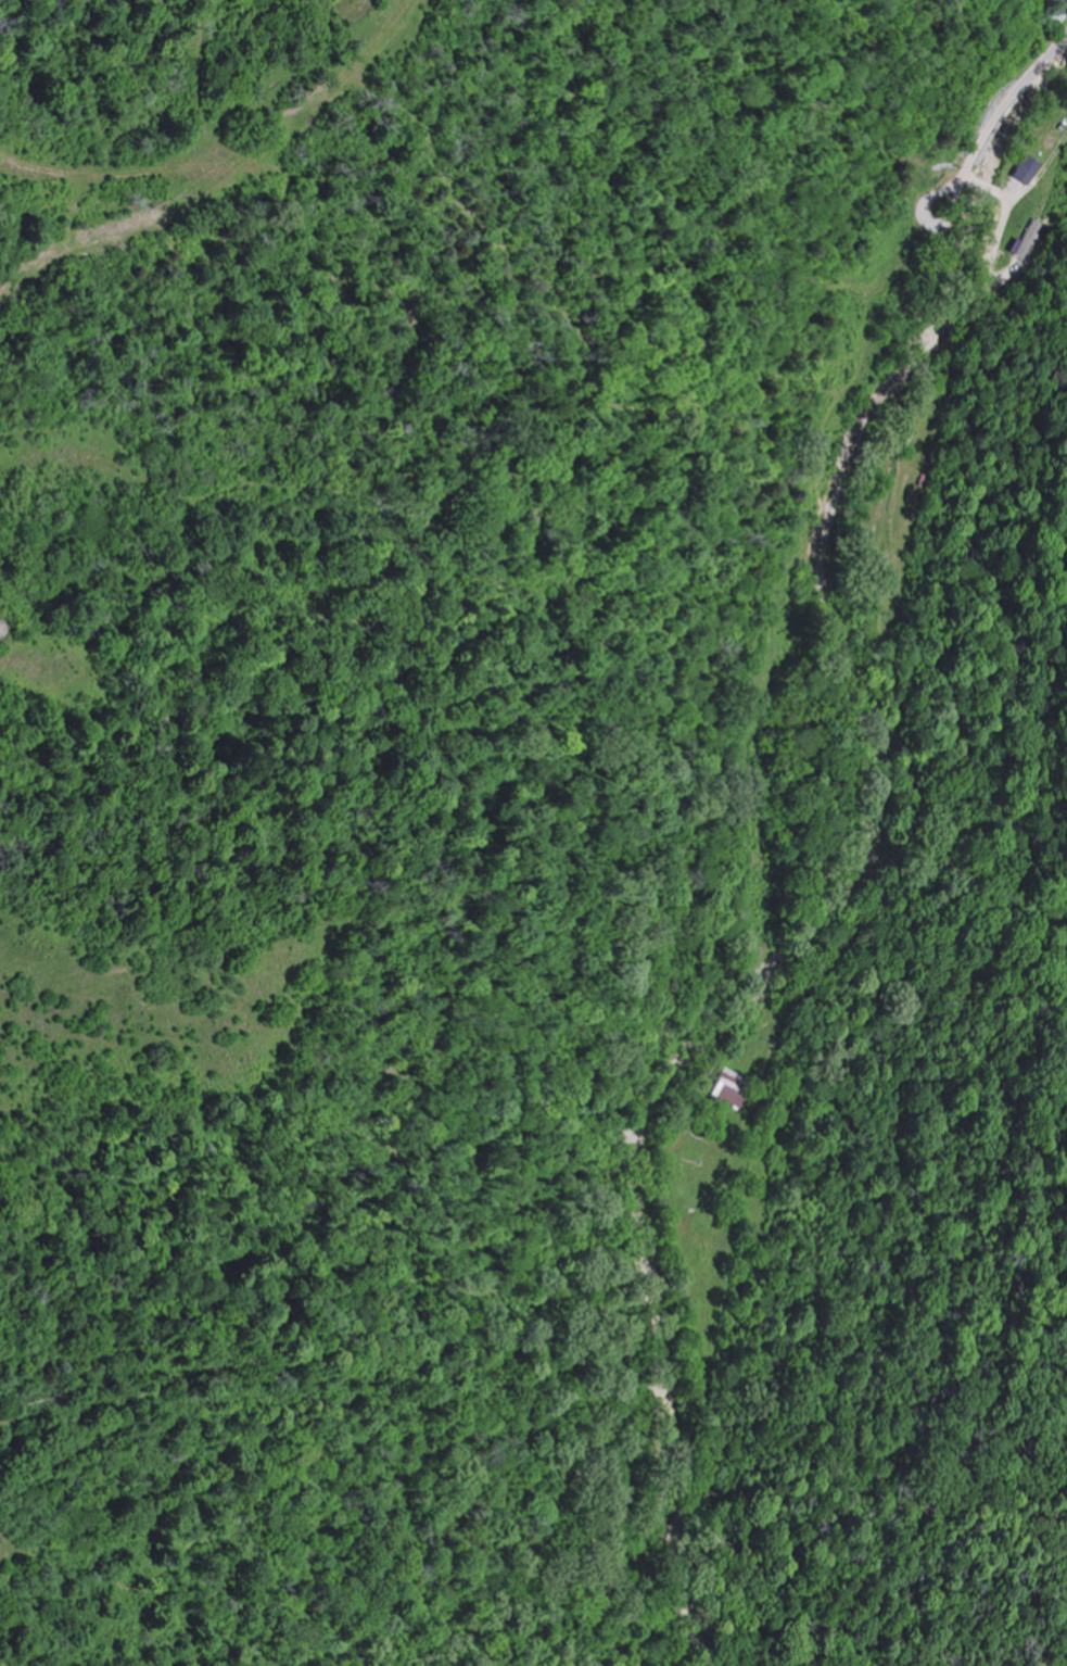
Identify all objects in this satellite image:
road: (1027, 78)
road: (977, 151)

